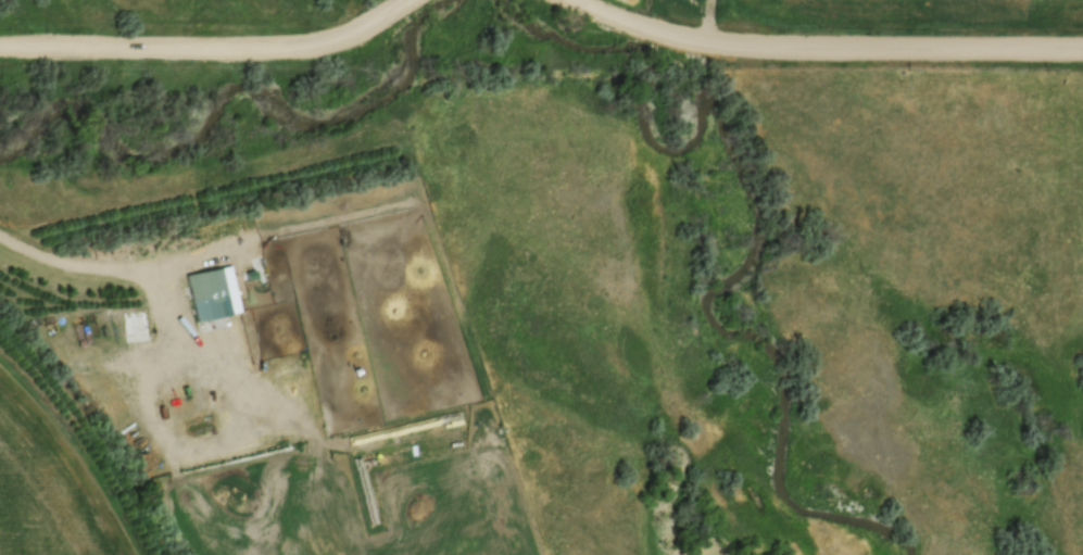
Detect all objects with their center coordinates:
road: (830, 42)
road: (212, 49)
road: (117, 269)
building: (218, 295)
crop: (385, 319)
road: (237, 353)
road: (192, 428)
crop: (50, 485)
crop: (366, 501)

